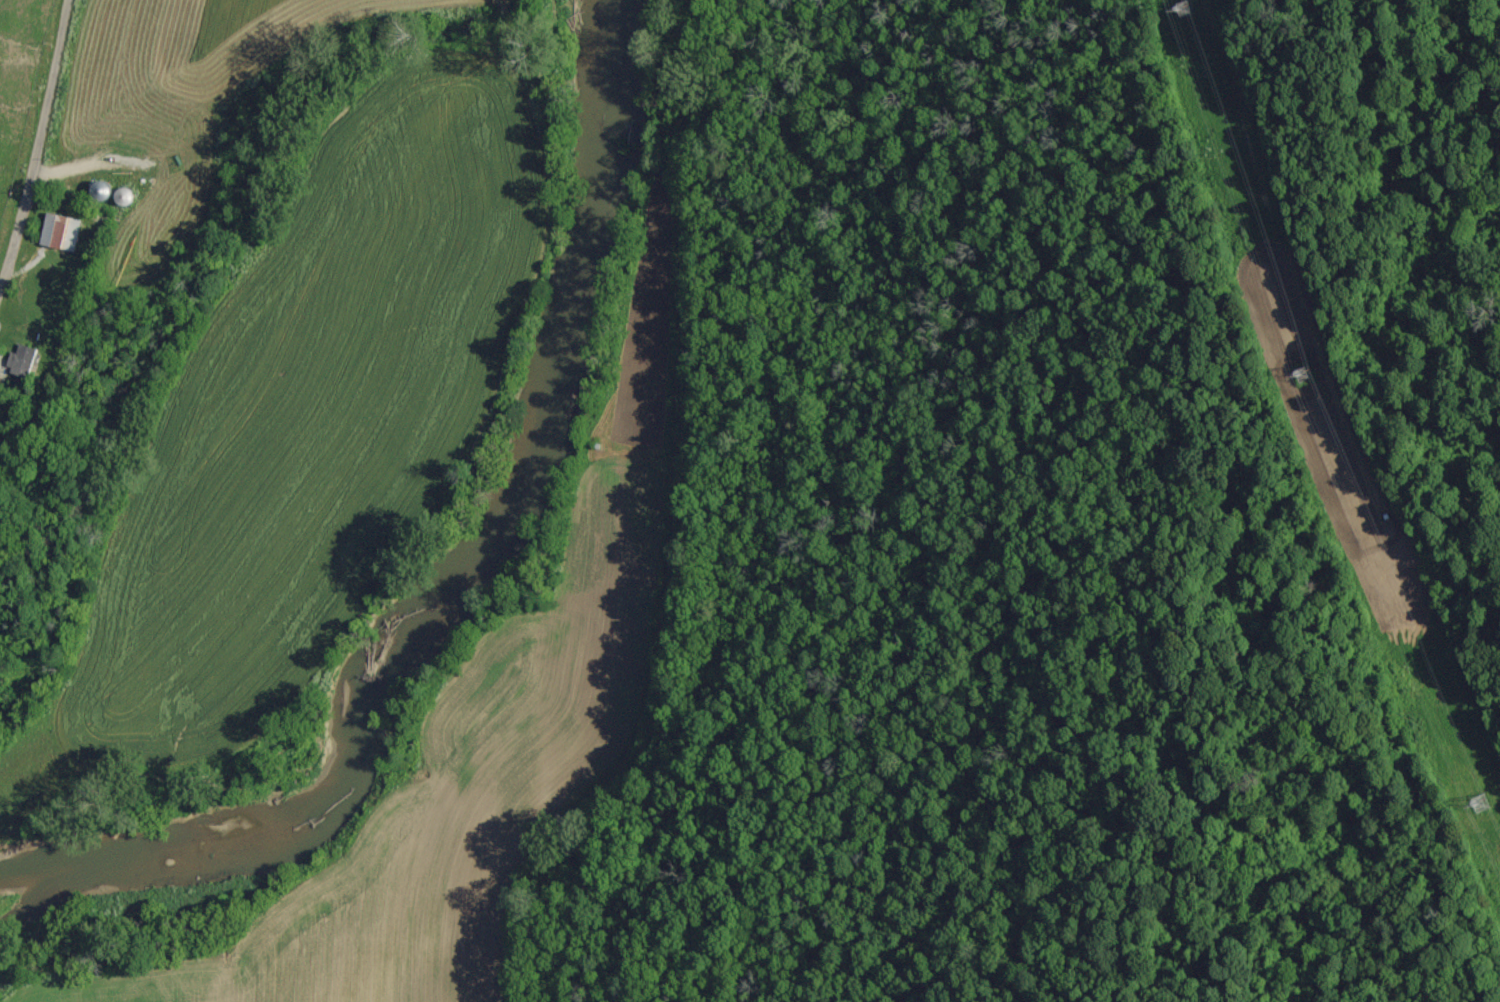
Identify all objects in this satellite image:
road: (309, 16)
road: (34, 137)
building: (64, 233)
building: (26, 362)
power tower: (1294, 376)
power tower: (1462, 794)

